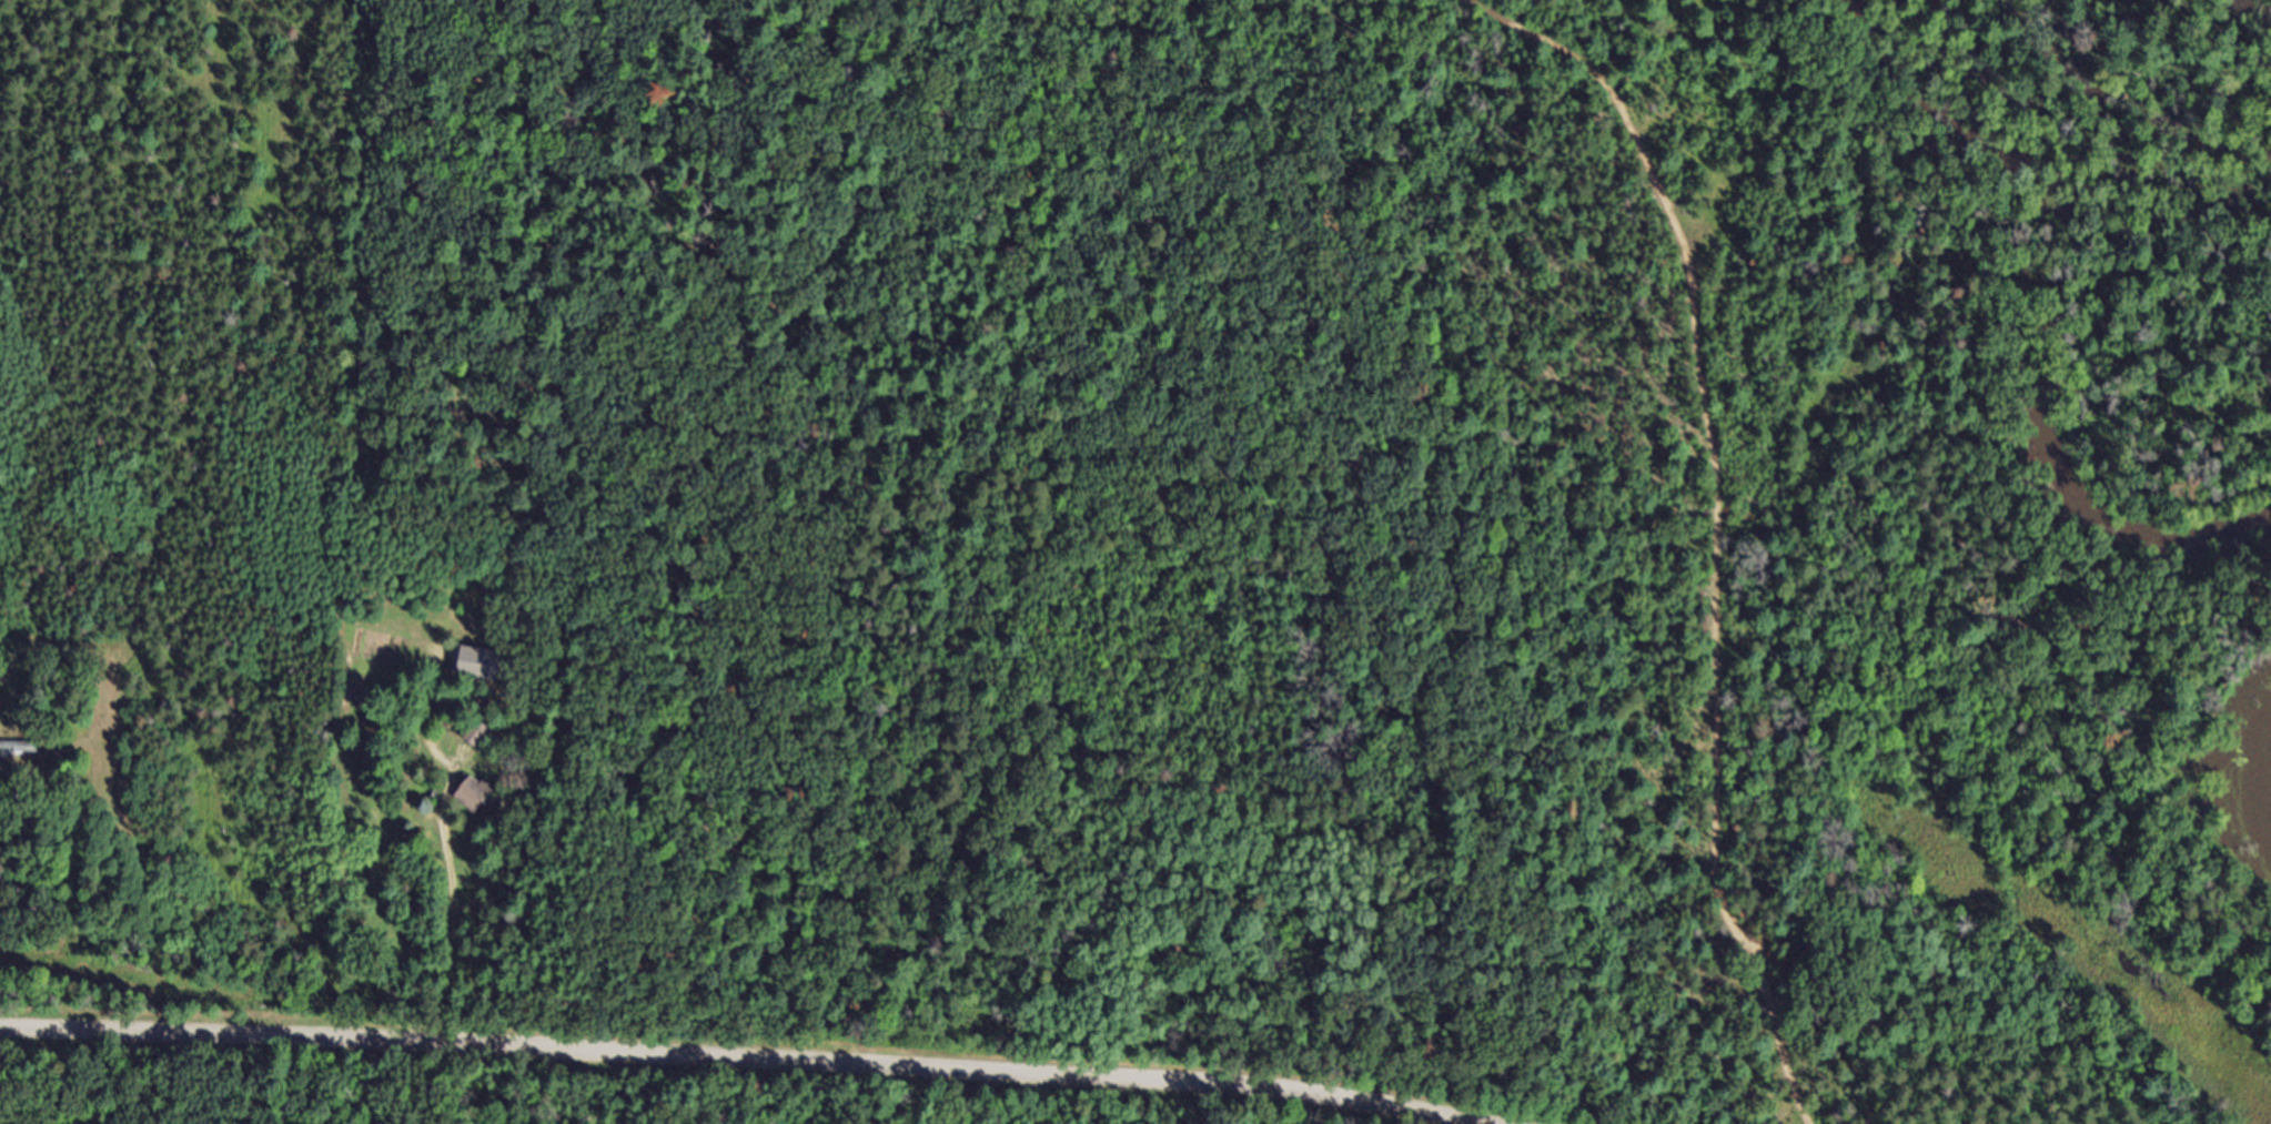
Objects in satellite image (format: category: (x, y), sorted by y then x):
building: (483, 671)
building: (481, 742)
building: (21, 757)
building: (477, 801)
road: (749, 1060)

